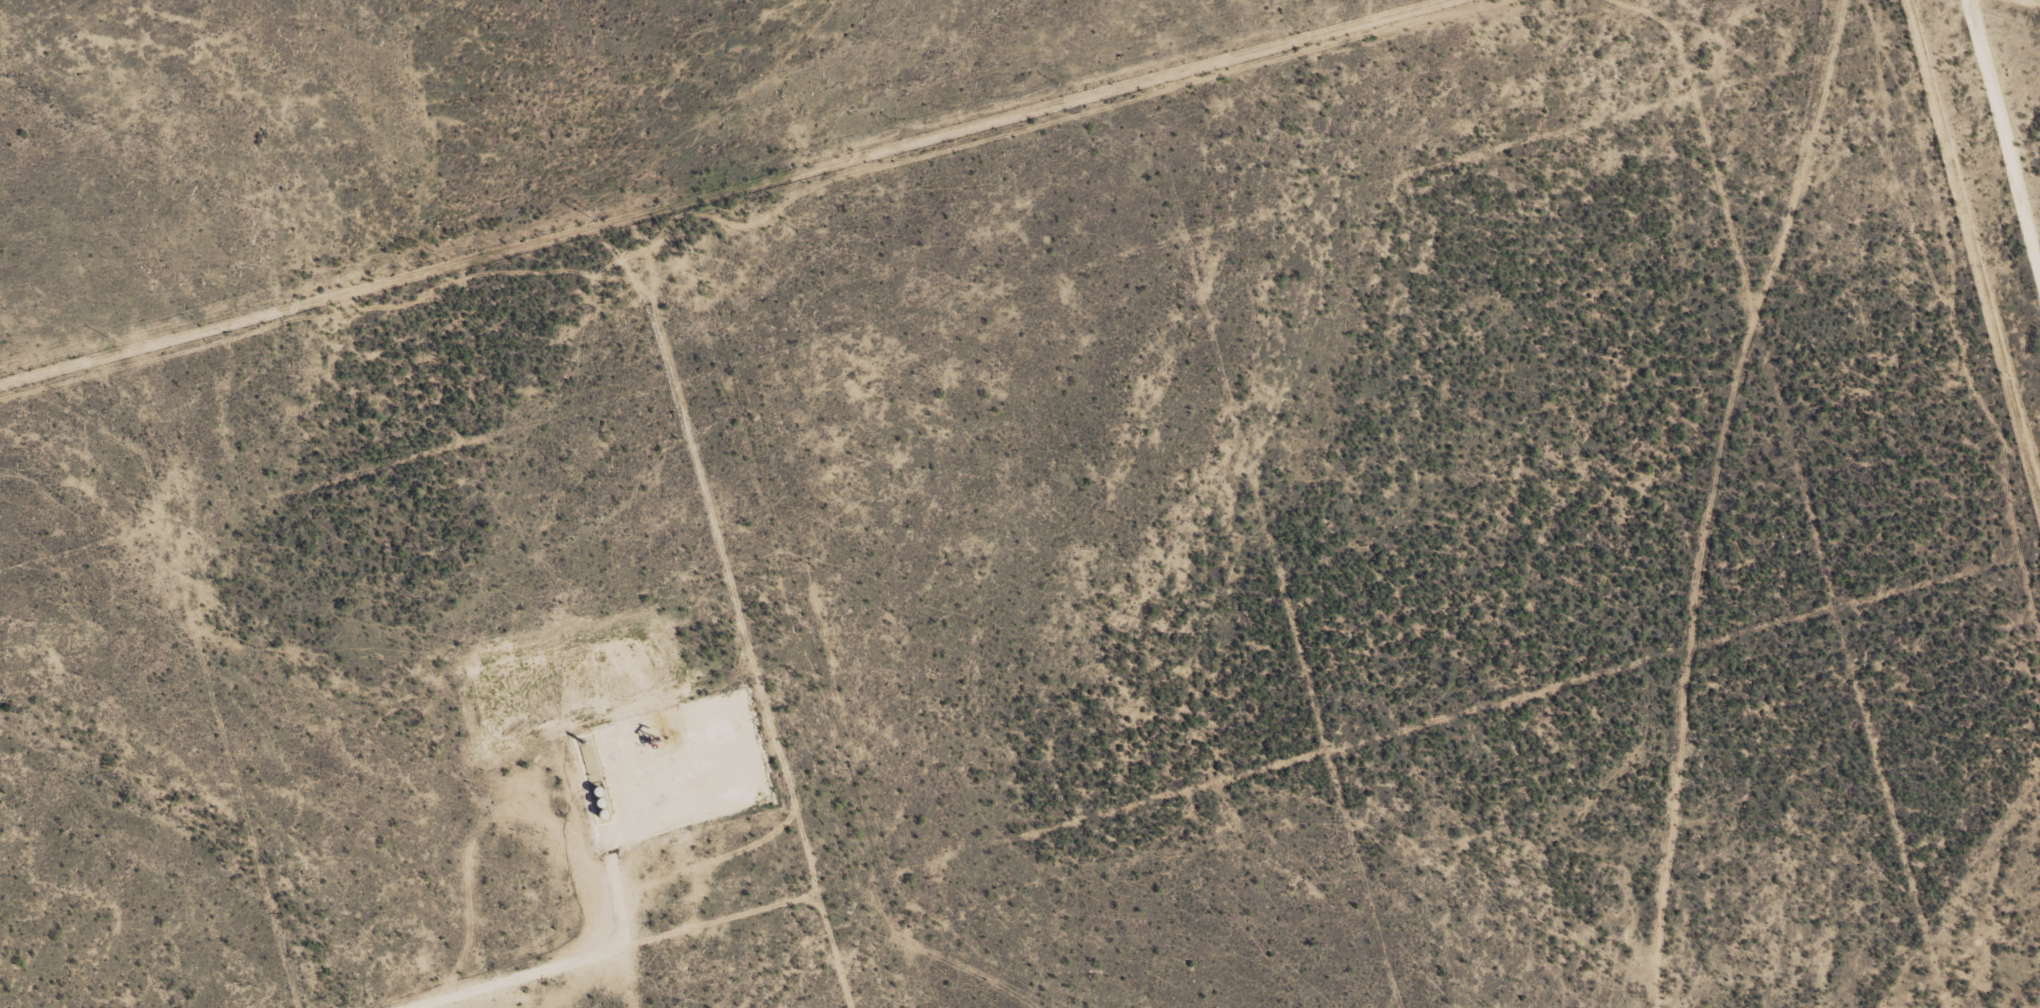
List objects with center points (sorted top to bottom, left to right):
road: (1698, 504)

